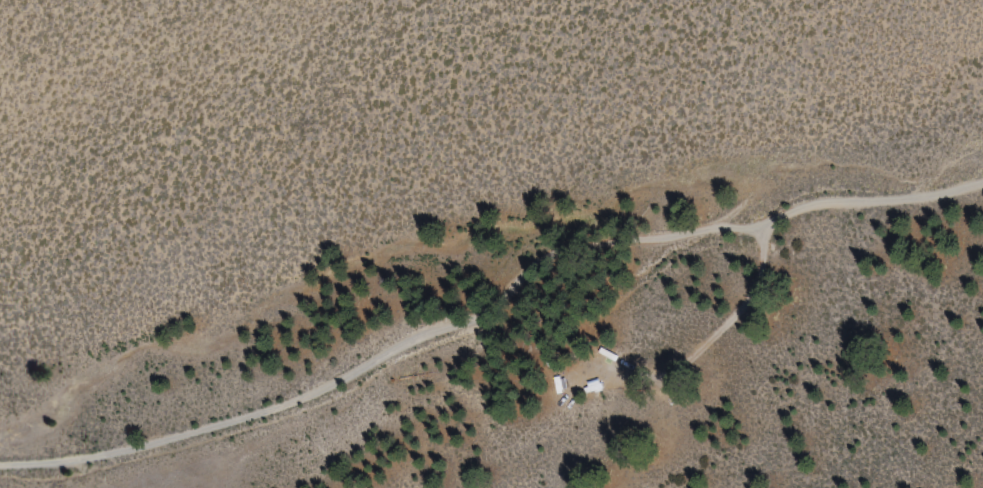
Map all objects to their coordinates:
road: (489, 309)

